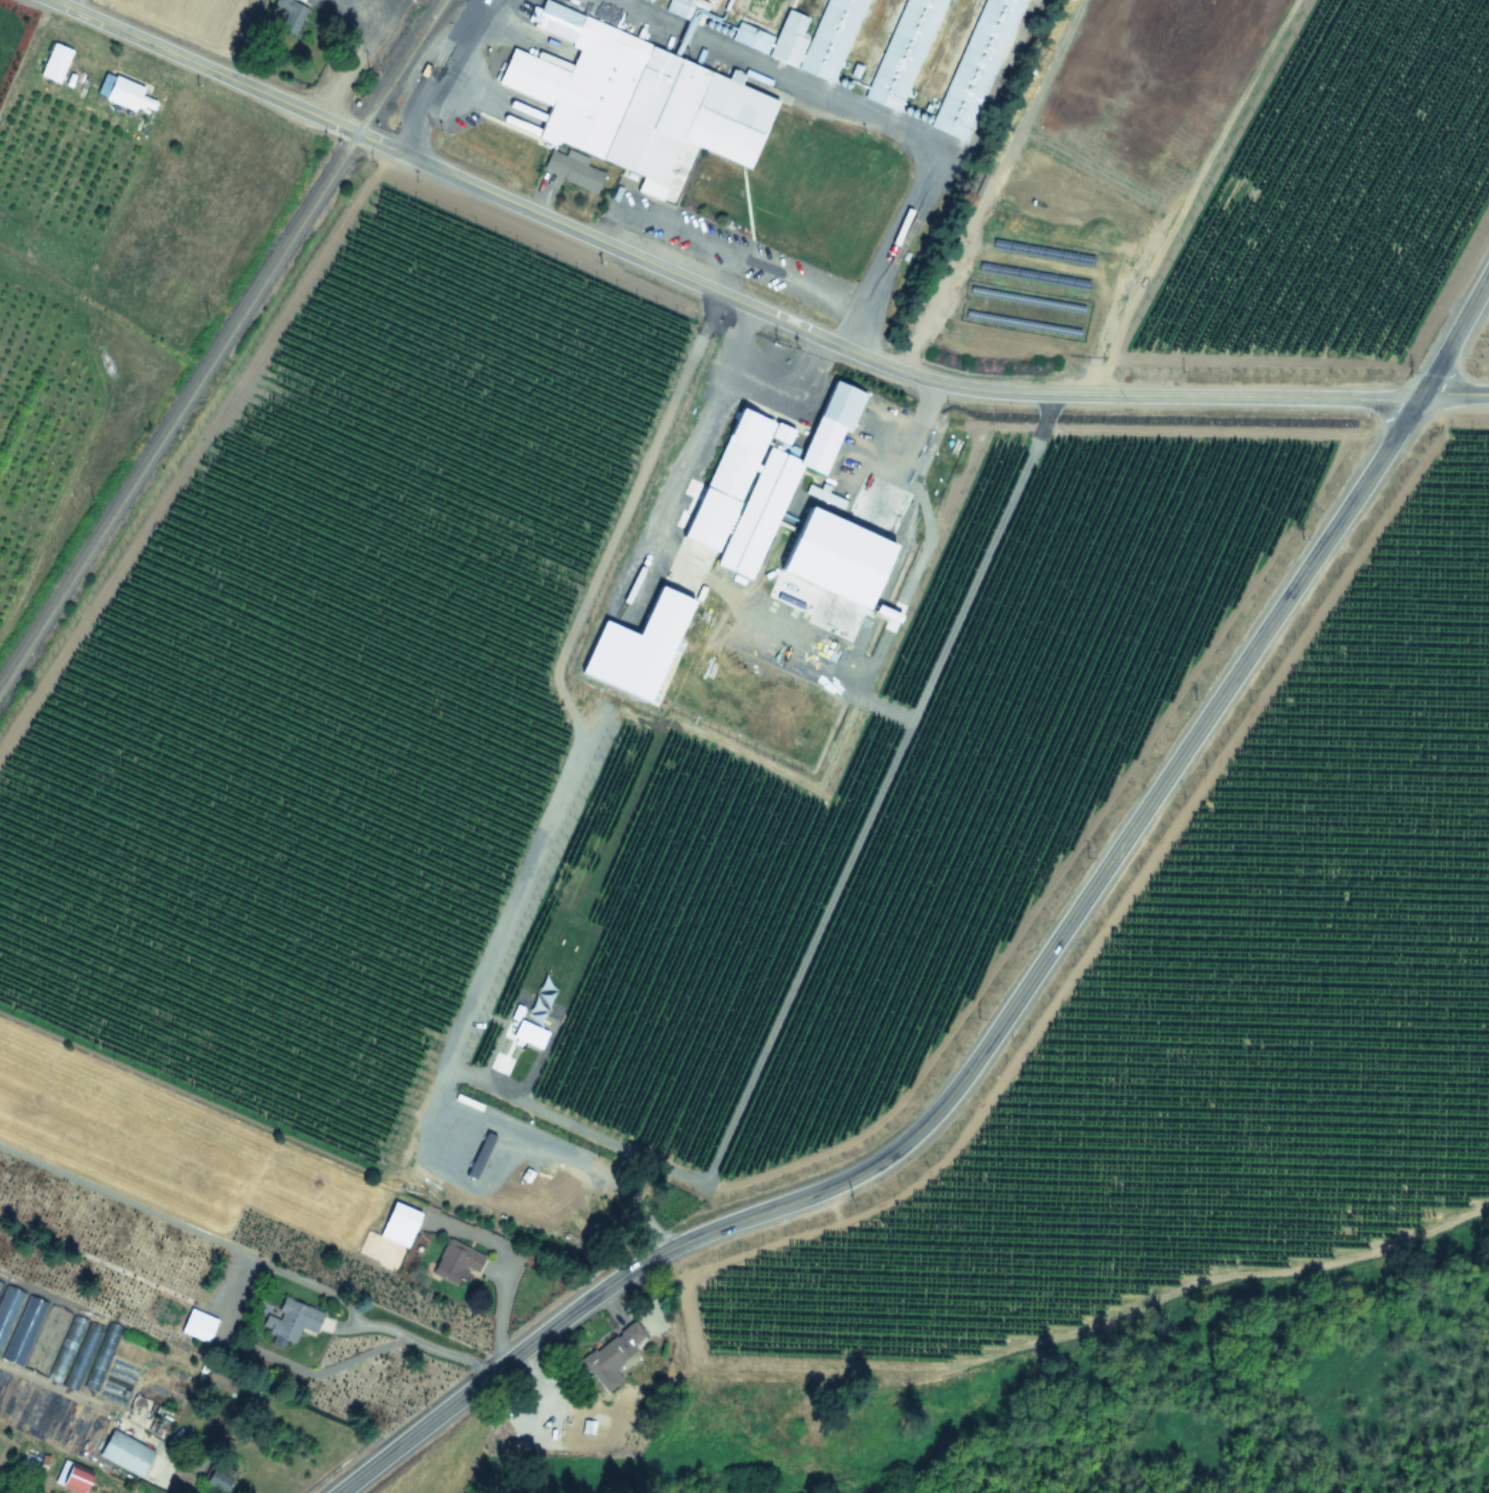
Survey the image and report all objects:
road: (487, 3)
building: (688, 6)
building: (290, 12)
crop: (282, 29)
railway: (428, 29)
road: (215, 32)
building: (794, 43)
building: (907, 53)
building: (5, 59)
road: (353, 60)
building: (54, 62)
building: (976, 67)
road: (444, 79)
building: (127, 94)
road: (1000, 96)
building: (637, 103)
road: (866, 117)
building: (572, 169)
crop: (1231, 183)
road: (675, 228)
crop: (106, 262)
road: (713, 289)
road: (1454, 335)
railway: (220, 342)
road: (1453, 394)
road: (910, 433)
road: (688, 449)
building: (772, 464)
building: (828, 545)
road: (979, 1052)
road: (496, 1117)
building: (481, 1142)
building: (460, 1205)
building: (398, 1223)
building: (458, 1259)
building: (290, 1322)
building: (198, 1325)
road: (418, 1338)
building: (53, 1339)
building: (610, 1355)
building: (124, 1453)
building: (73, 1475)
building: (218, 1476)

